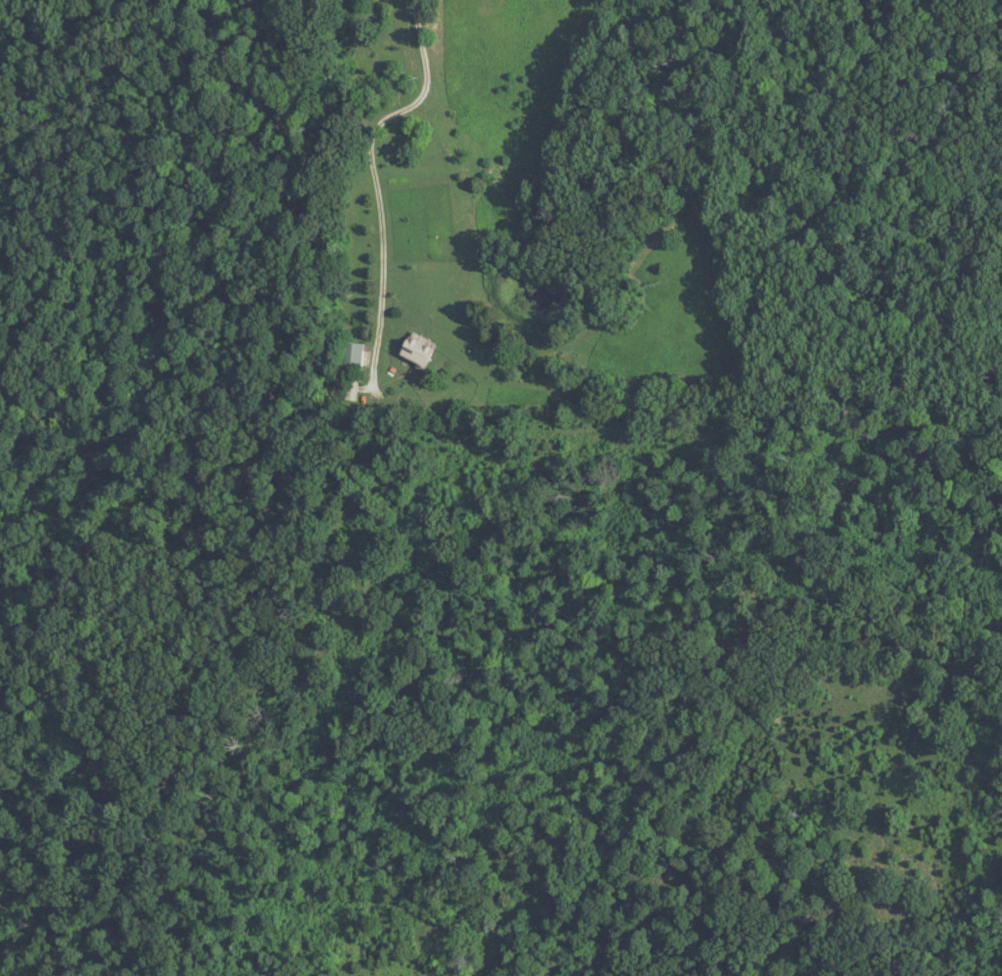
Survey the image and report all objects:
road: (371, 174)
building: (419, 350)
building: (353, 355)

